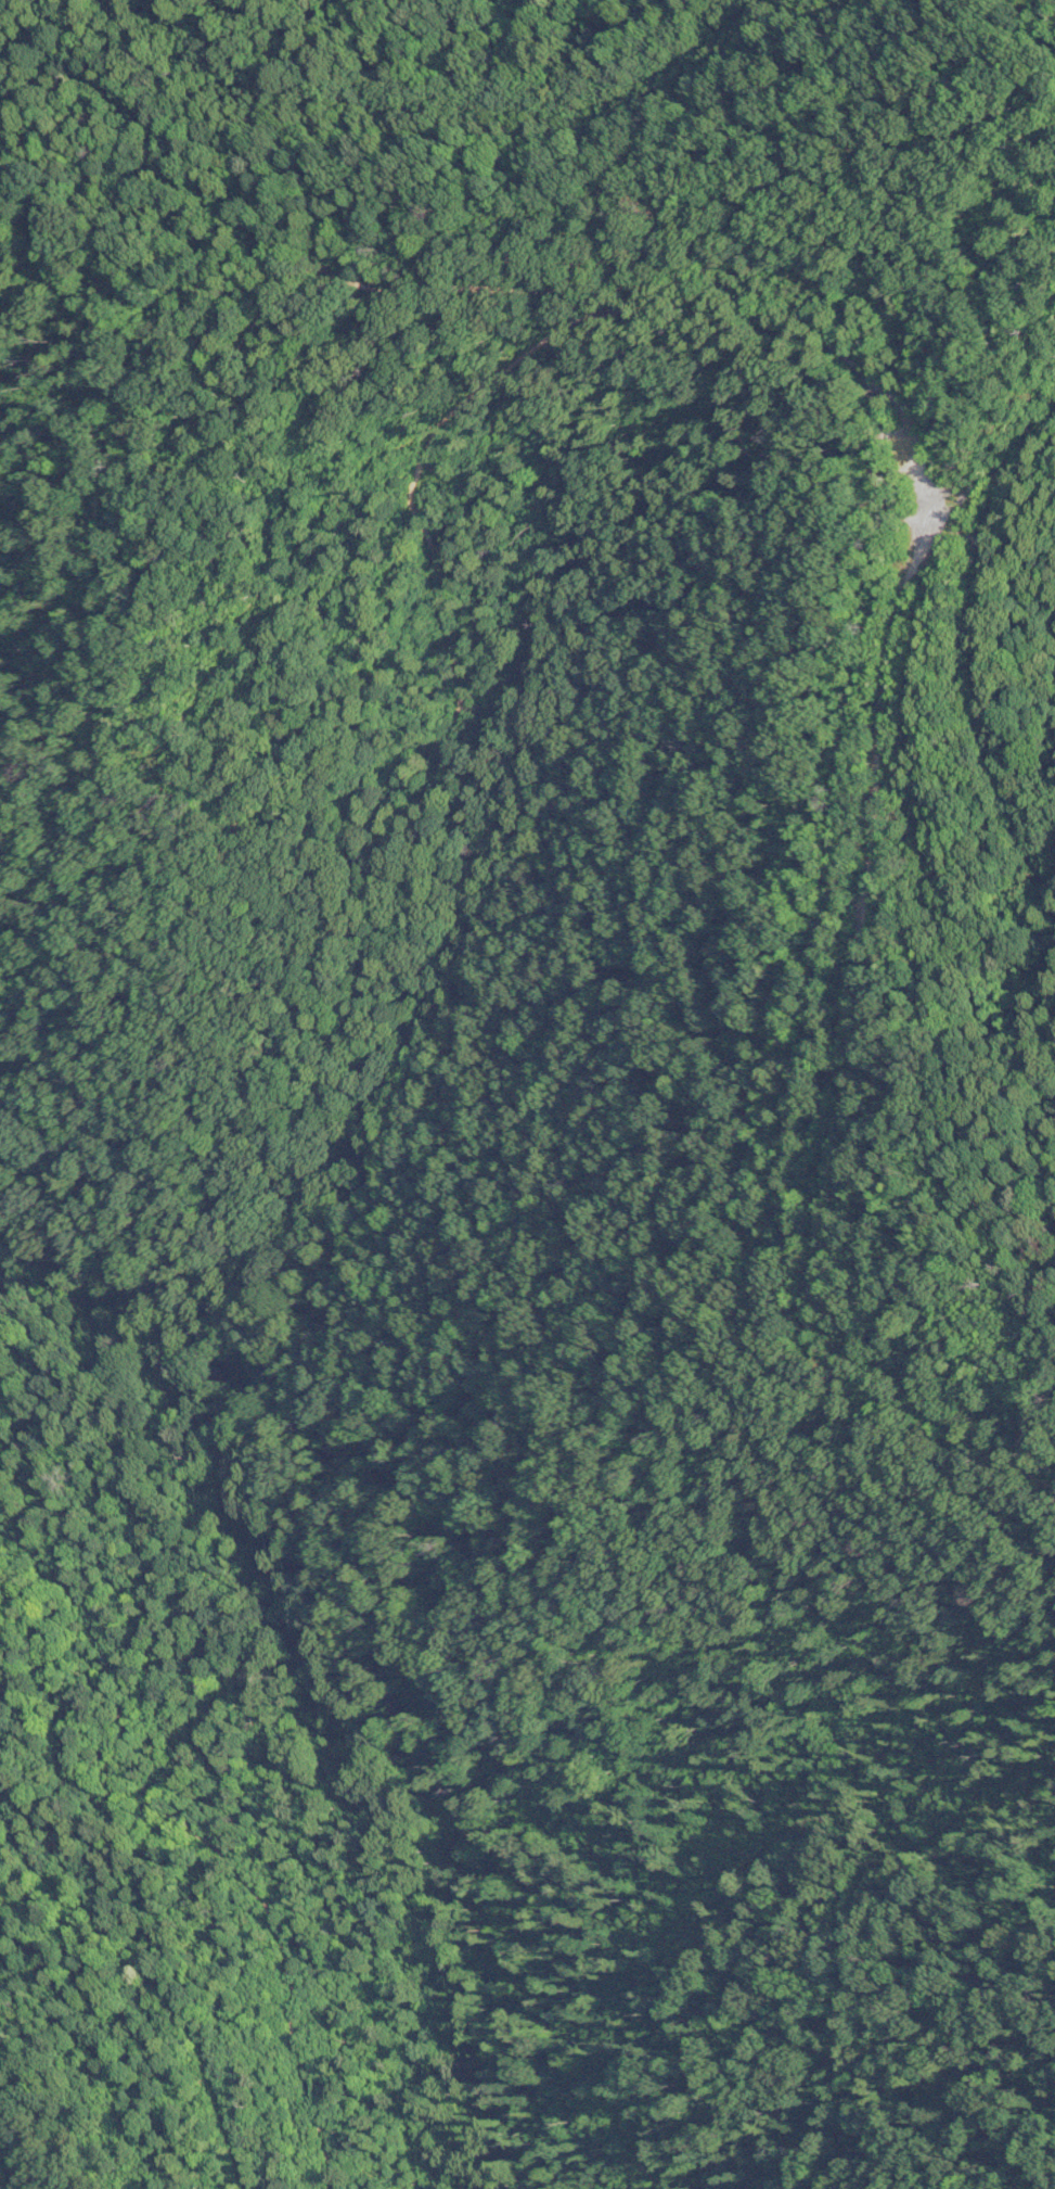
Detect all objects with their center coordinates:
road: (874, 447)

